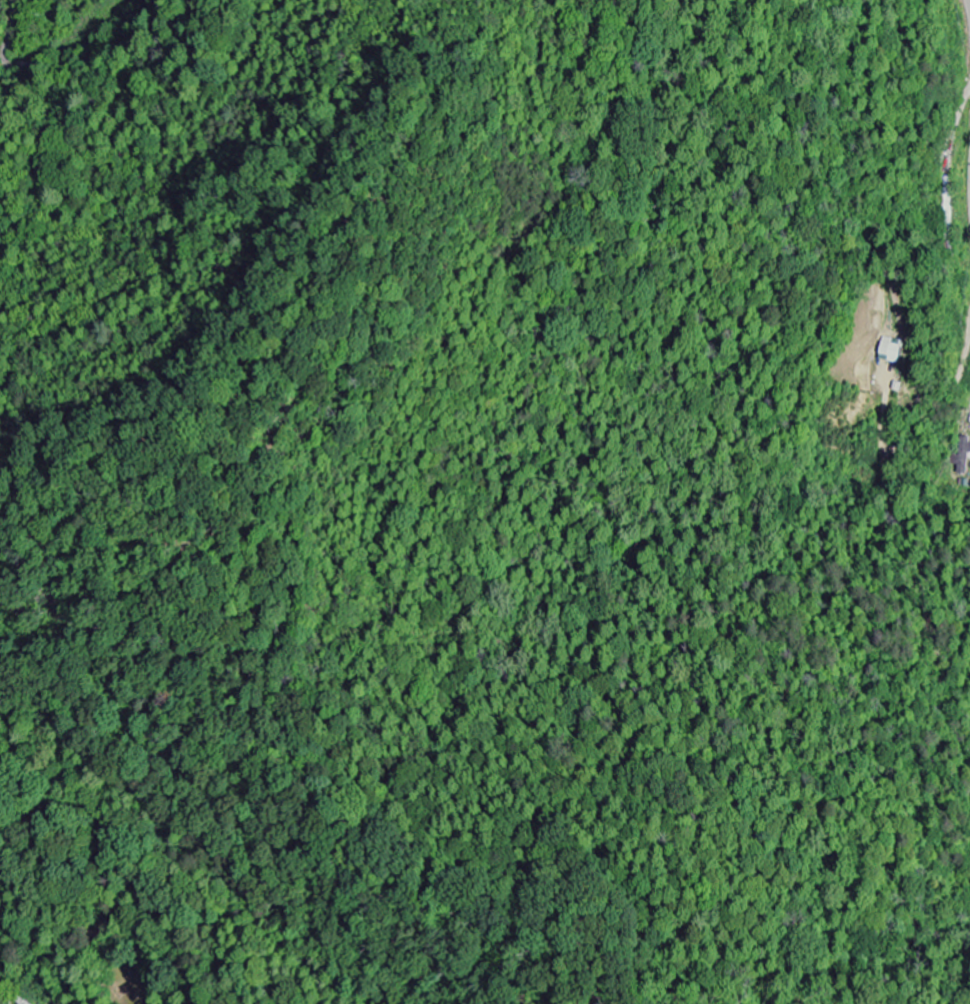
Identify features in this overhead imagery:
road: (968, 5)
building: (893, 352)
road: (940, 399)

